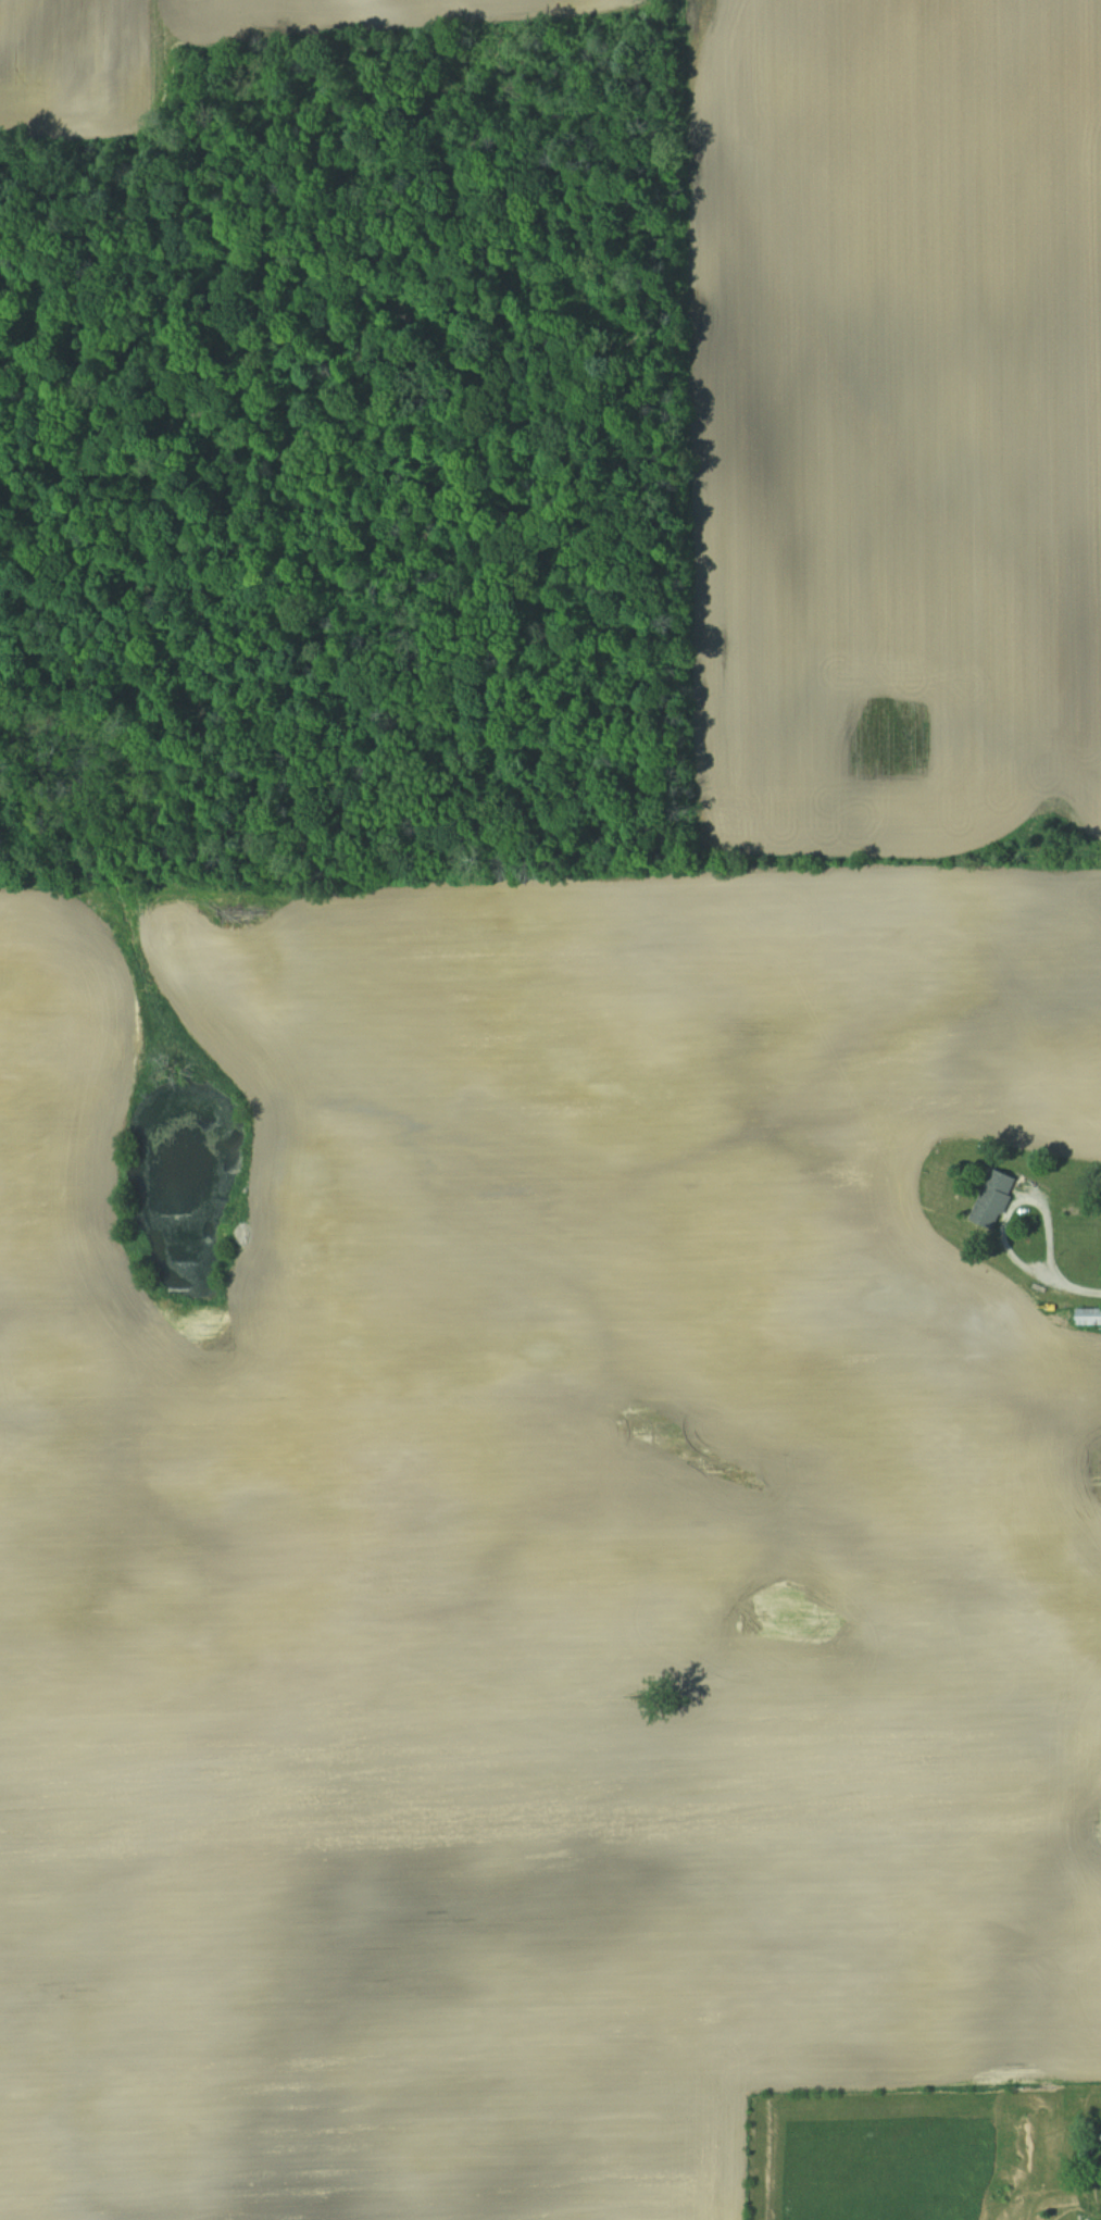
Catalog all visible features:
building: (993, 1198)
road: (1015, 1199)
road: (1075, 1288)
building: (1088, 1317)

